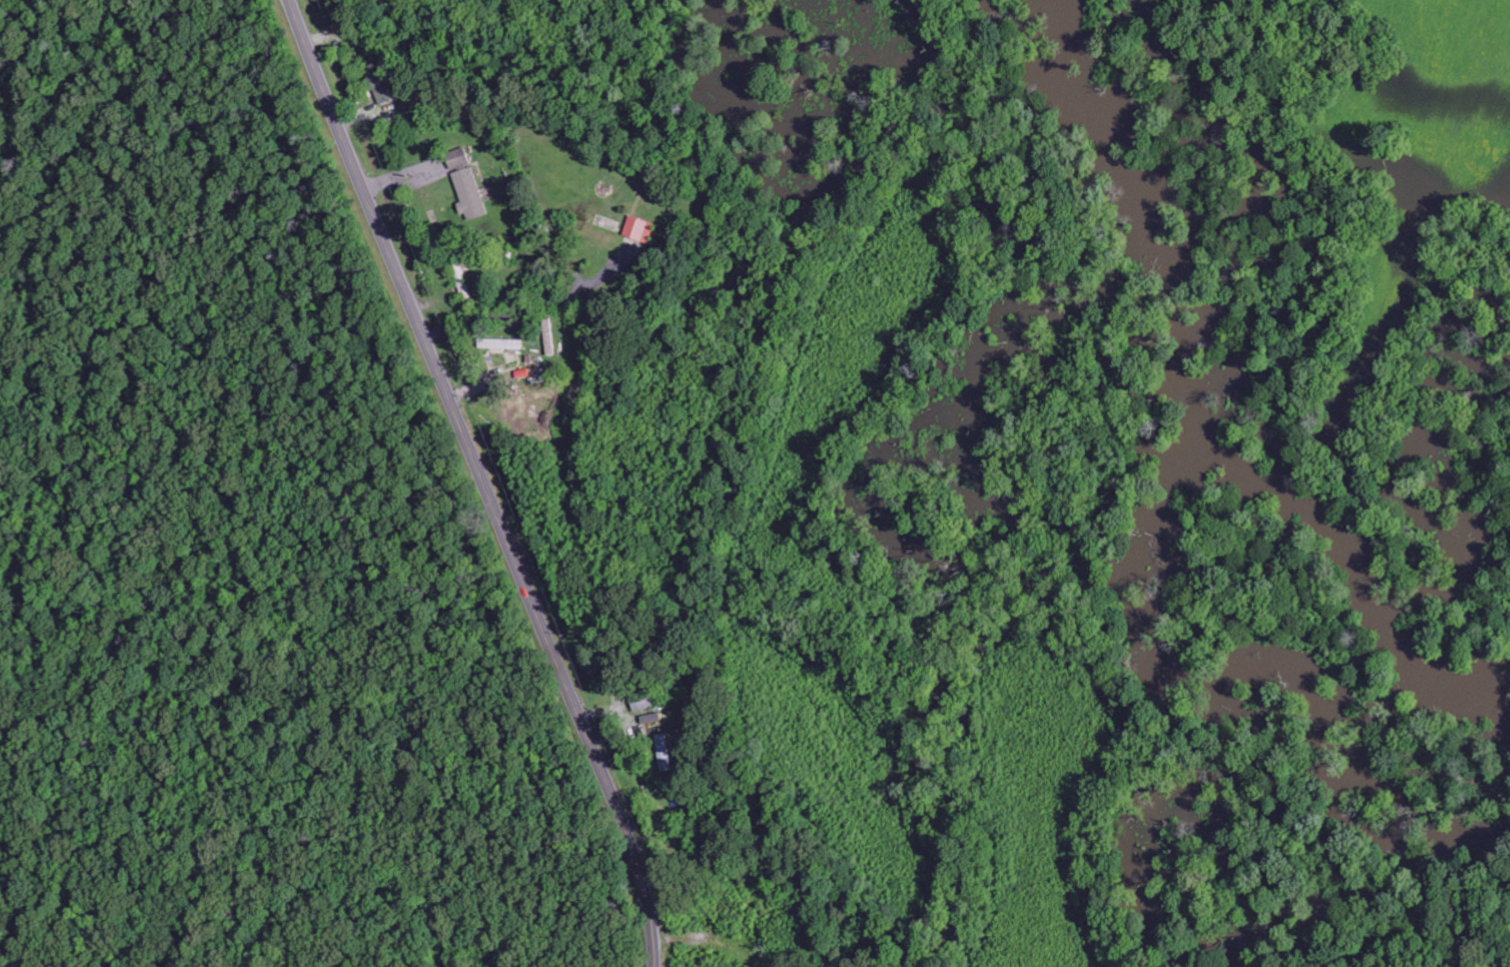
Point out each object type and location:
building: (383, 81)
building: (466, 185)
building: (639, 230)
building: (503, 344)
road: (484, 480)
river: (1131, 564)
building: (667, 752)

